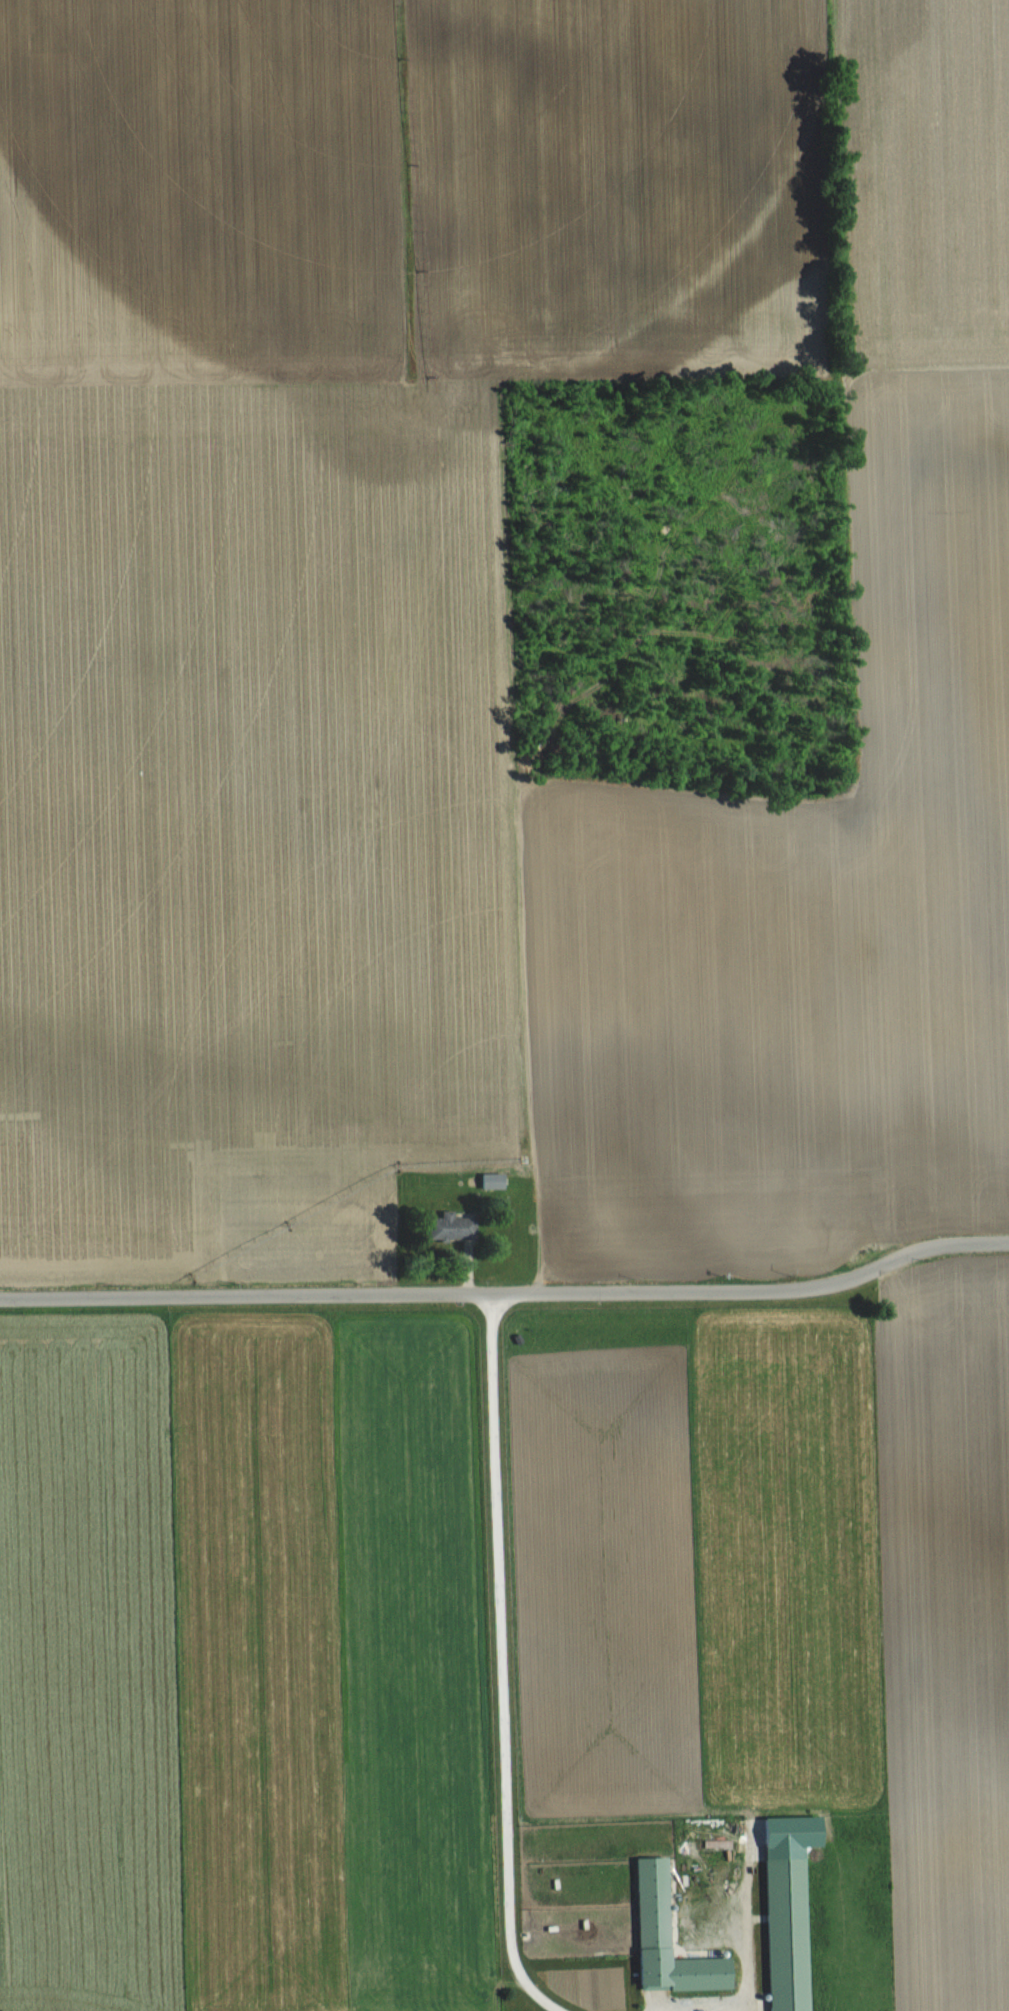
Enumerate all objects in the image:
building: (490, 1181)
building: (448, 1227)
road: (509, 1288)
road: (504, 1661)
building: (782, 1934)
building: (663, 1940)
road: (741, 2009)

